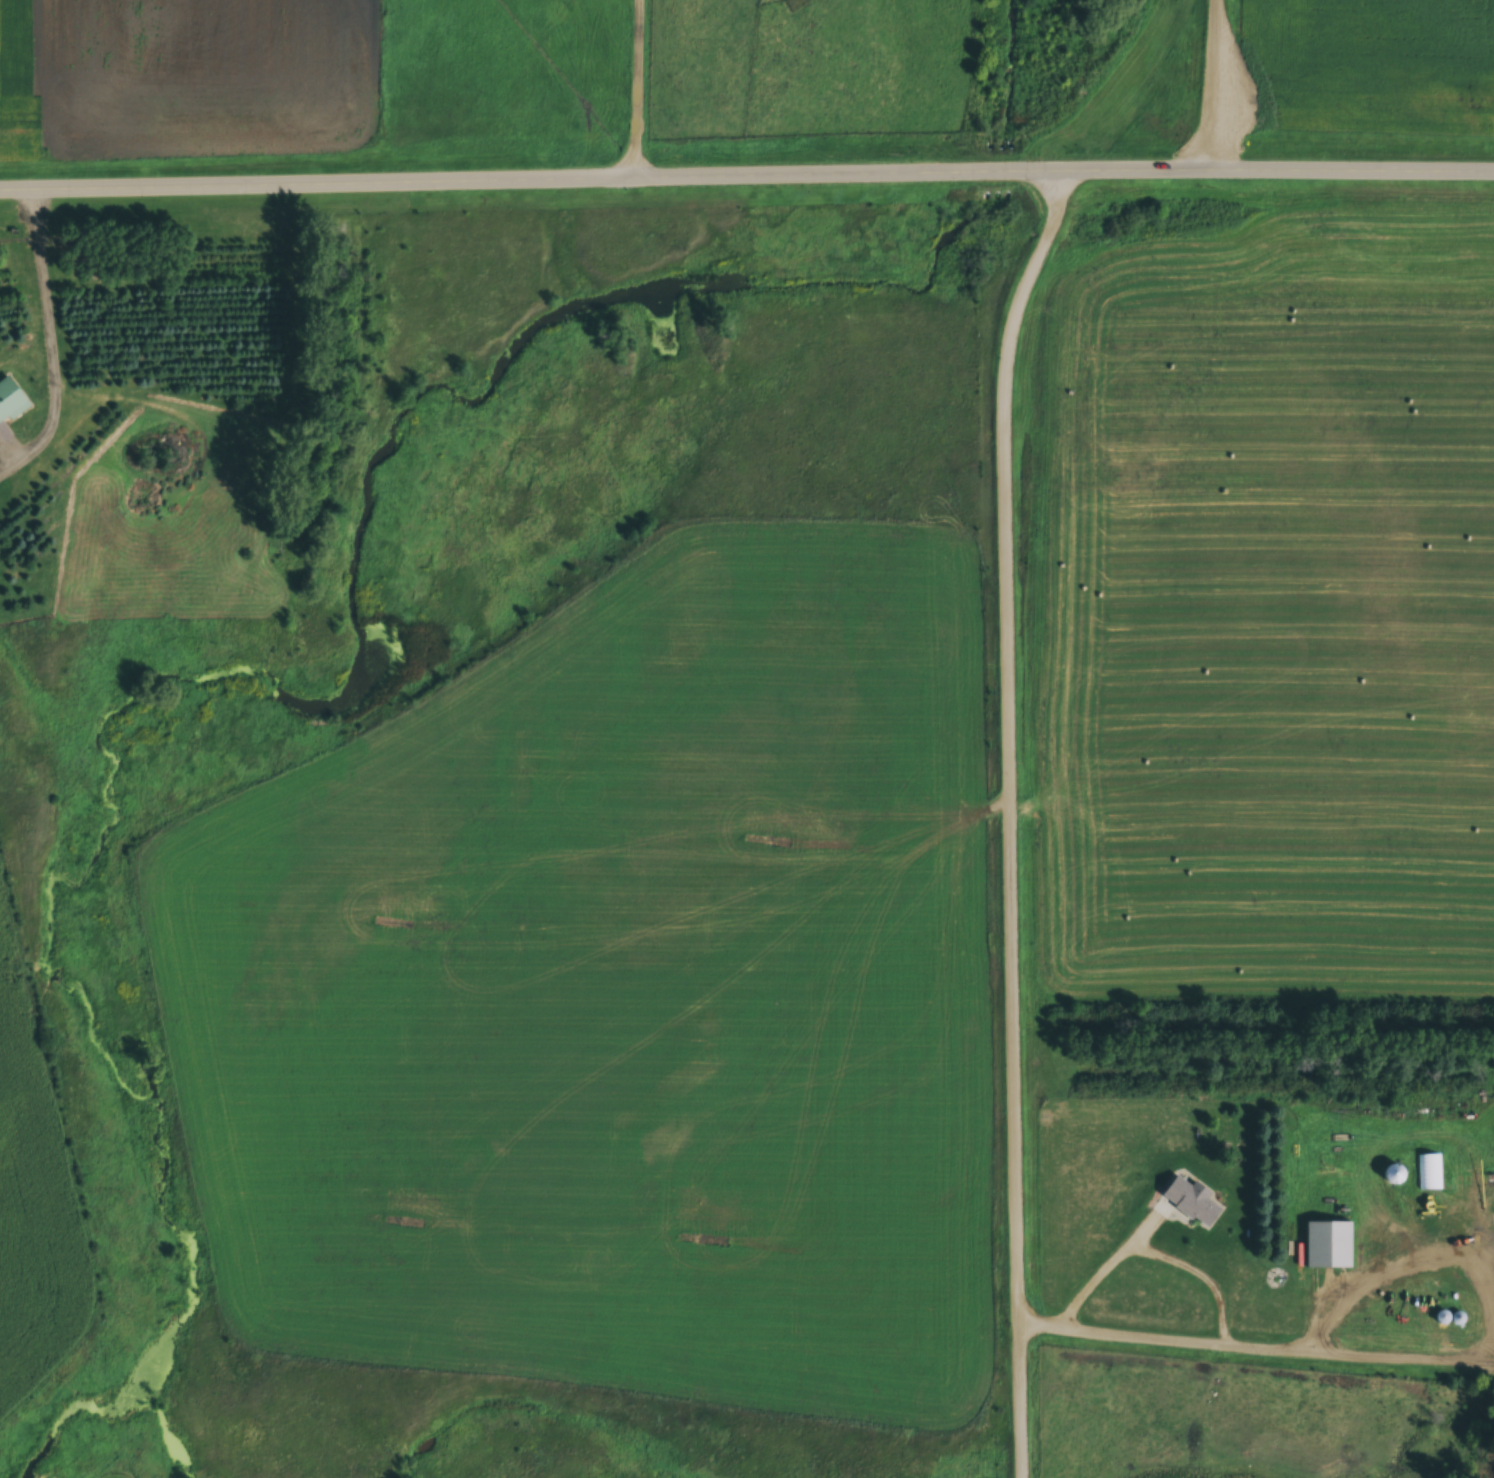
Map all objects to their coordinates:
road: (1211, 82)
road: (746, 169)
building: (10, 402)
road: (1014, 816)
building: (1340, 1168)
building: (1429, 1173)
building: (1192, 1202)
building: (1328, 1245)

